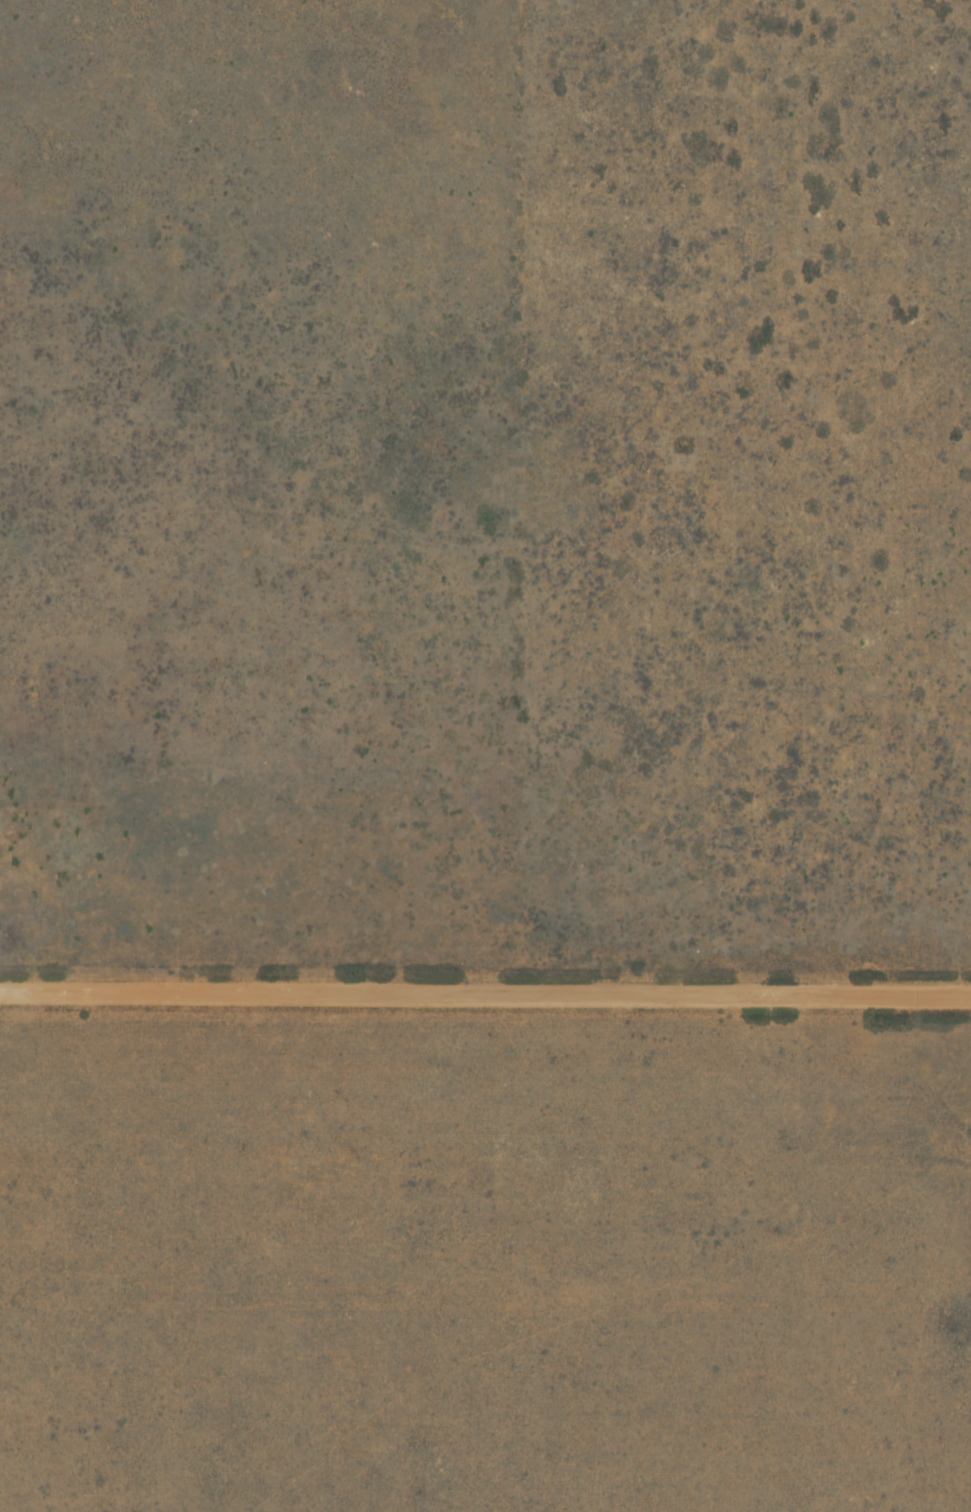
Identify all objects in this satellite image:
road: (485, 998)

